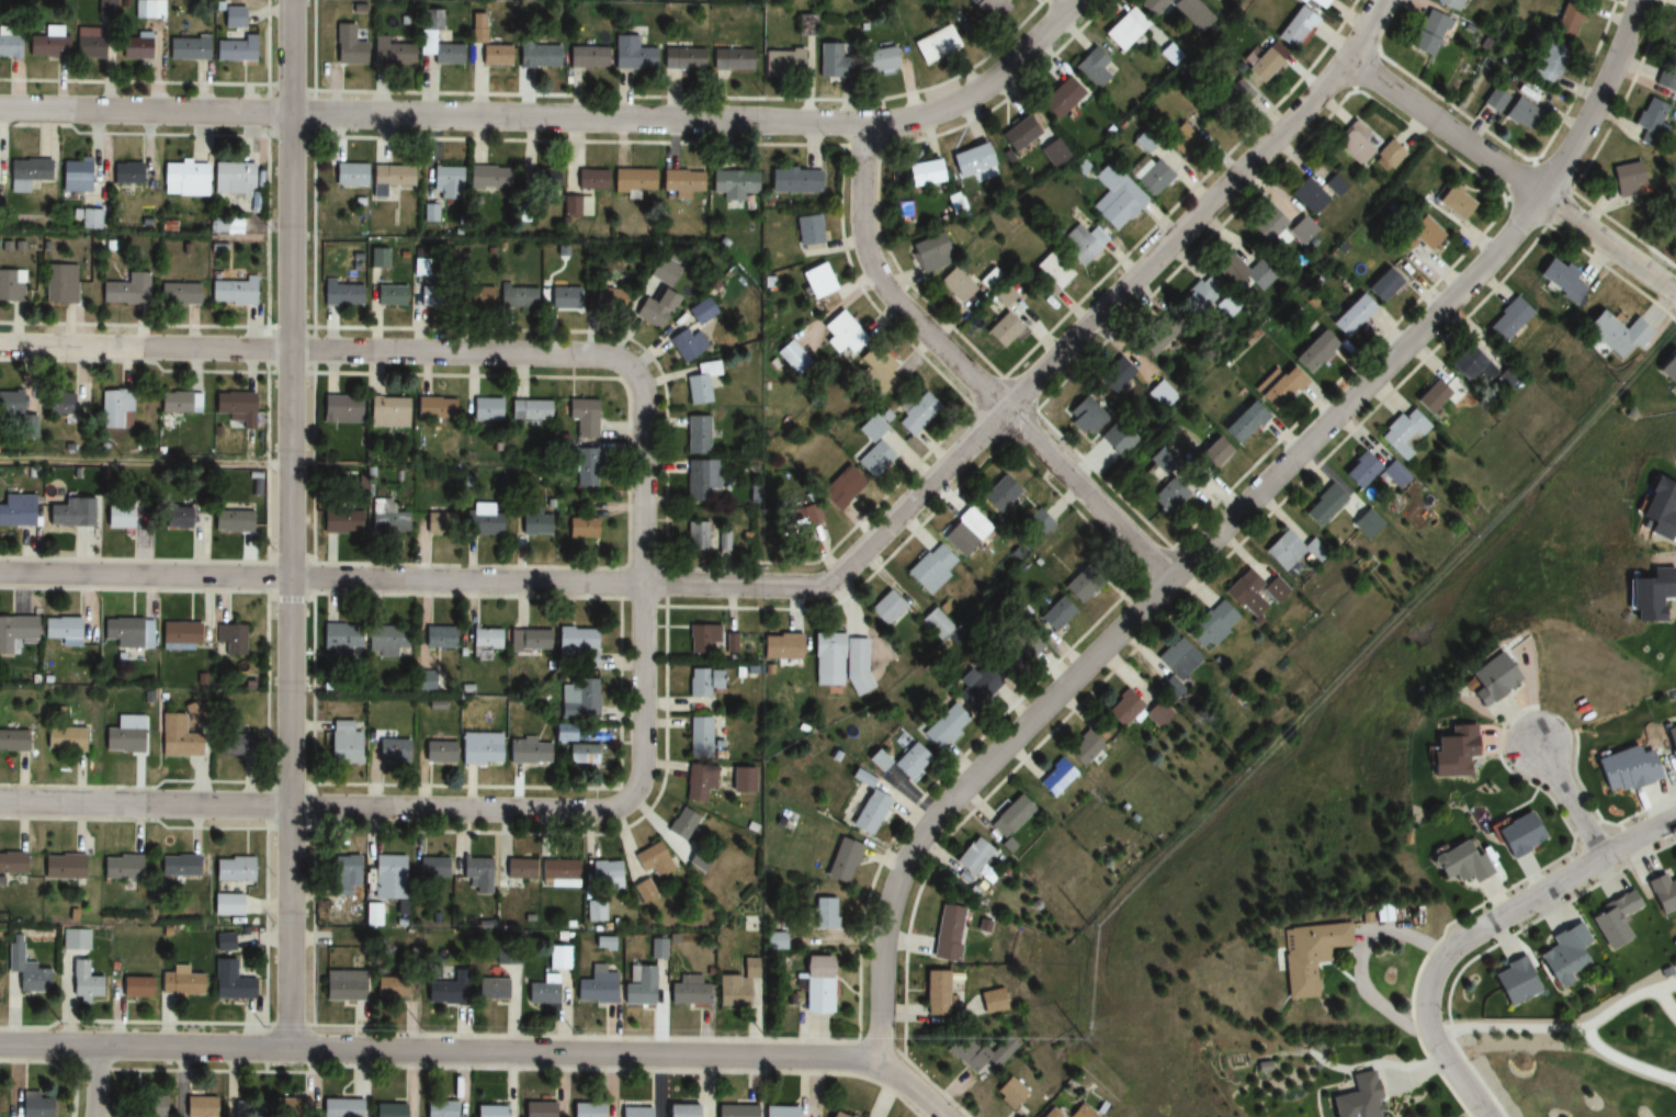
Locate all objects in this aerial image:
road: (1071, 1)
building: (1316, 2)
building: (1449, 4)
building: (1152, 5)
building: (104, 9)
building: (147, 9)
building: (987, 9)
building: (1193, 14)
building: (1566, 20)
building: (804, 25)
building: (1293, 27)
building: (1123, 30)
building: (1426, 33)
building: (1675, 36)
building: (88, 44)
building: (45, 45)
building: (933, 45)
building: (8, 46)
building: (134, 46)
building: (347, 46)
building: (185, 48)
building: (231, 48)
building: (1168, 48)
building: (438, 50)
building: (390, 53)
building: (630, 54)
building: (494, 55)
building: (536, 55)
building: (586, 56)
building: (681, 58)
building: (732, 59)
building: (880, 59)
building: (829, 61)
building: (781, 63)
building: (1545, 63)
building: (1260, 66)
building: (1091, 68)
building: (1667, 72)
building: (1065, 97)
building: (1232, 99)
building: (1493, 100)
building: (1520, 114)
road: (558, 119)
building: (1651, 121)
building: (1017, 134)
building: (1355, 144)
building: (1052, 153)
building: (1388, 157)
building: (969, 160)
building: (27, 173)
building: (126, 173)
building: (921, 173)
building: (348, 174)
building: (1148, 174)
building: (76, 176)
road: (1513, 177)
building: (1626, 177)
building: (230, 178)
building: (389, 178)
building: (487, 178)
building: (182, 179)
building: (590, 180)
building: (632, 180)
building: (793, 180)
building: (444, 182)
building: (681, 182)
building: (733, 183)
building: (1334, 187)
building: (543, 189)
building: (1309, 196)
building: (1114, 198)
building: (1452, 202)
building: (1282, 221)
building: (806, 230)
building: (1672, 230)
building: (1417, 237)
building: (1078, 244)
building: (930, 253)
building: (1052, 270)
building: (660, 271)
building: (1243, 272)
building: (1559, 280)
building: (815, 282)
building: (58, 283)
building: (10, 285)
building: (954, 286)
building: (124, 291)
building: (229, 291)
building: (178, 294)
building: (340, 294)
building: (388, 295)
building: (474, 295)
building: (1001, 295)
building: (517, 296)
building: (564, 298)
building: (607, 298)
building: (1197, 301)
building: (1363, 302)
building: (655, 307)
building: (1225, 307)
building: (700, 312)
building: (1508, 320)
building: (1001, 330)
building: (835, 334)
building: (1616, 335)
building: (1153, 339)
building: (686, 343)
road: (145, 346)
road: (462, 352)
building: (1313, 352)
building: (793, 357)
building: (1470, 364)
building: (1667, 369)
building: (879, 371)
road: (967, 373)
building: (1114, 375)
building: (700, 383)
building: (1277, 387)
building: (1160, 395)
building: (1431, 397)
building: (9, 403)
building: (178, 403)
building: (57, 404)
building: (231, 404)
building: (113, 407)
building: (435, 408)
building: (485, 409)
building: (339, 410)
building: (530, 410)
building: (387, 413)
building: (915, 415)
building: (581, 417)
building: (1242, 422)
building: (1404, 432)
building: (697, 435)
building: (872, 437)
building: (1114, 440)
building: (1212, 455)
road: (145, 463)
building: (584, 467)
building: (1360, 471)
building: (1396, 475)
building: (701, 479)
building: (840, 488)
building: (998, 495)
building: (1165, 495)
building: (1325, 507)
building: (15, 511)
building: (69, 514)
building: (128, 517)
building: (231, 517)
building: (184, 518)
building: (387, 519)
road: (1228, 519)
building: (480, 520)
building: (795, 520)
building: (1366, 520)
building: (341, 521)
road: (290, 522)
building: (438, 523)
building: (531, 523)
building: (1038, 523)
building: (586, 528)
building: (964, 532)
building: (697, 537)
building: (721, 541)
building: (1292, 551)
building: (930, 568)
road: (816, 583)
road: (644, 584)
building: (1082, 584)
building: (1254, 594)
building: (885, 608)
building: (1053, 614)
building: (936, 623)
building: (1210, 628)
building: (14, 631)
building: (60, 631)
building: (127, 633)
building: (179, 636)
building: (438, 638)
building: (701, 638)
building: (230, 639)
building: (340, 639)
building: (485, 639)
building: (575, 639)
building: (387, 641)
building: (528, 641)
building: (729, 644)
building: (1023, 645)
building: (780, 646)
building: (1178, 659)
building: (826, 661)
building: (857, 665)
building: (1484, 679)
building: (702, 682)
building: (976, 689)
building: (576, 700)
building: (1123, 710)
building: (1158, 714)
building: (940, 726)
building: (175, 733)
building: (560, 733)
building: (123, 735)
building: (699, 735)
building: (63, 738)
building: (11, 741)
building: (231, 743)
building: (342, 744)
building: (1671, 745)
building: (479, 749)
building: (1083, 749)
building: (437, 751)
building: (392, 752)
building: (1447, 752)
building: (526, 754)
building: (579, 754)
building: (907, 761)
building: (1626, 769)
building: (1056, 779)
building: (698, 782)
road: (1573, 802)
road: (316, 804)
building: (867, 812)
building: (1011, 816)
building: (681, 825)
building: (1517, 835)
road: (1642, 839)
building: (972, 857)
building: (654, 861)
building: (841, 861)
building: (1459, 862)
building: (10, 864)
building: (179, 866)
building: (60, 867)
building: (120, 867)
building: (432, 867)
building: (231, 869)
building: (517, 869)
building: (477, 875)
building: (559, 875)
building: (342, 876)
building: (605, 876)
building: (388, 877)
building: (645, 891)
building: (1661, 894)
building: (225, 905)
building: (596, 911)
building: (824, 914)
building: (1611, 921)
building: (947, 934)
building: (73, 939)
road: (1448, 951)
building: (1304, 956)
building: (1562, 956)
building: (557, 959)
road: (1356, 962)
building: (24, 970)
building: (82, 981)
building: (178, 982)
building: (228, 982)
building: (1511, 982)
building: (816, 985)
building: (133, 986)
building: (341, 986)
building: (594, 986)
building: (739, 986)
road: (1665, 986)
building: (388, 988)
building: (639, 988)
building: (446, 990)
building: (496, 990)
building: (542, 991)
building: (686, 993)
building: (935, 995)
building: (992, 1002)
road: (1665, 1004)
road: (1550, 1029)
road: (482, 1048)
building: (964, 1053)
road: (73, 1081)
road: (97, 1081)
building: (1008, 1093)
building: (1354, 1098)
building: (32, 1106)
building: (149, 1106)
building: (199, 1107)
building: (288, 1107)
building: (340, 1108)
building: (440, 1108)
building: (248, 1109)
building: (539, 1109)
building: (587, 1109)
building: (388, 1110)
building: (490, 1112)
building: (680, 1112)
building: (735, 1112)
building: (779, 1112)
building: (1083, 1112)
building: (635, 1113)
building: (1051, 1114)
building: (835, 1115)

